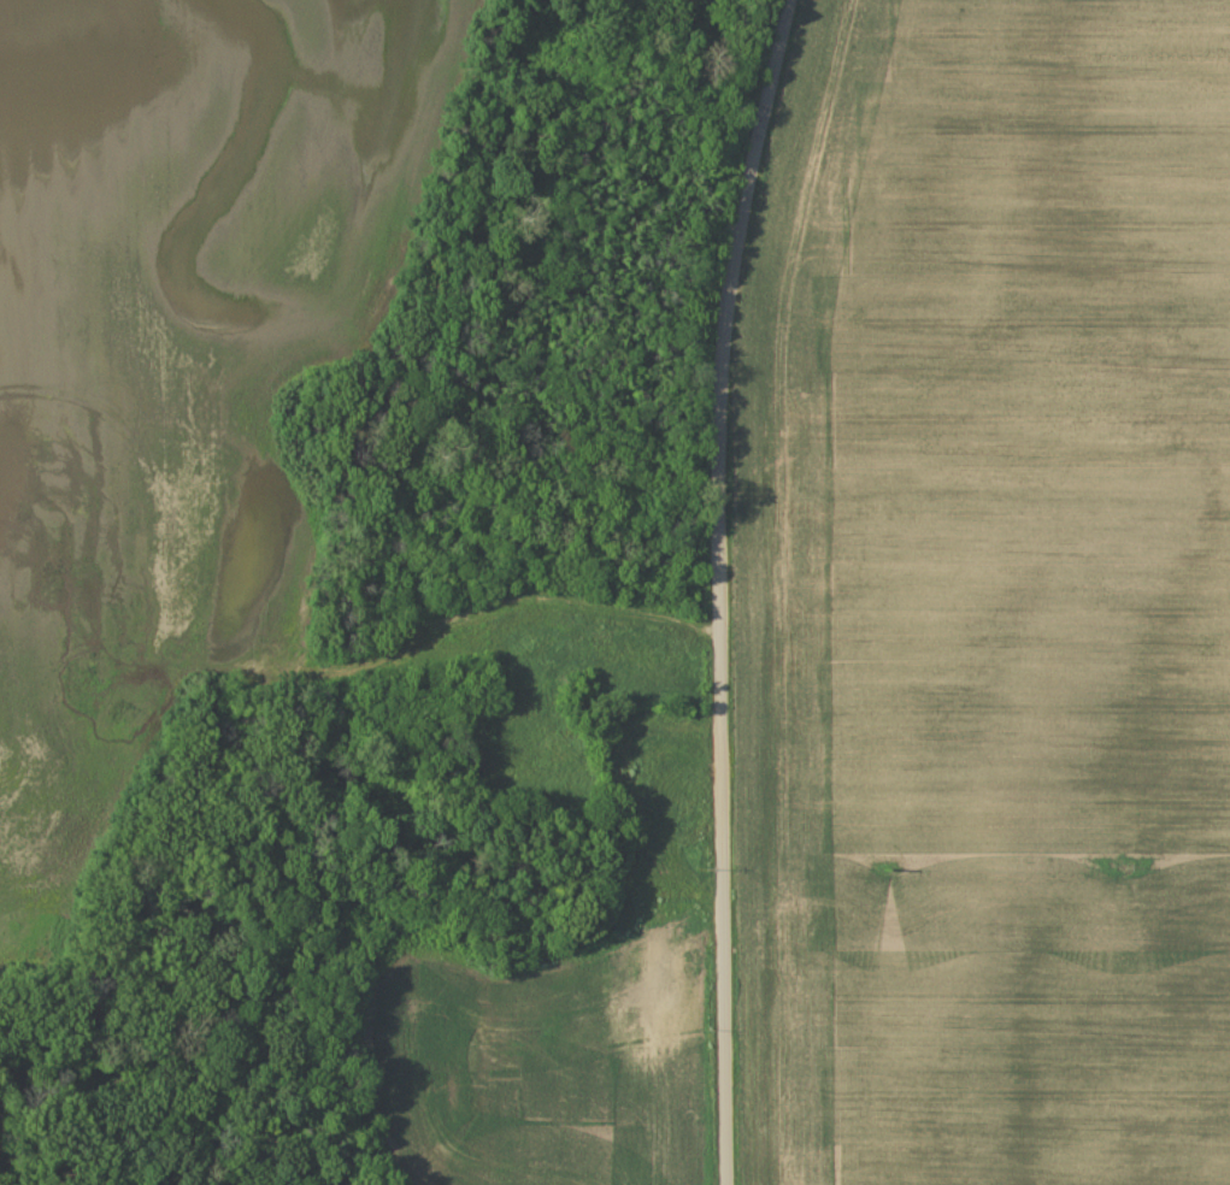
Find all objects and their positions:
road: (716, 589)
road: (331, 668)

